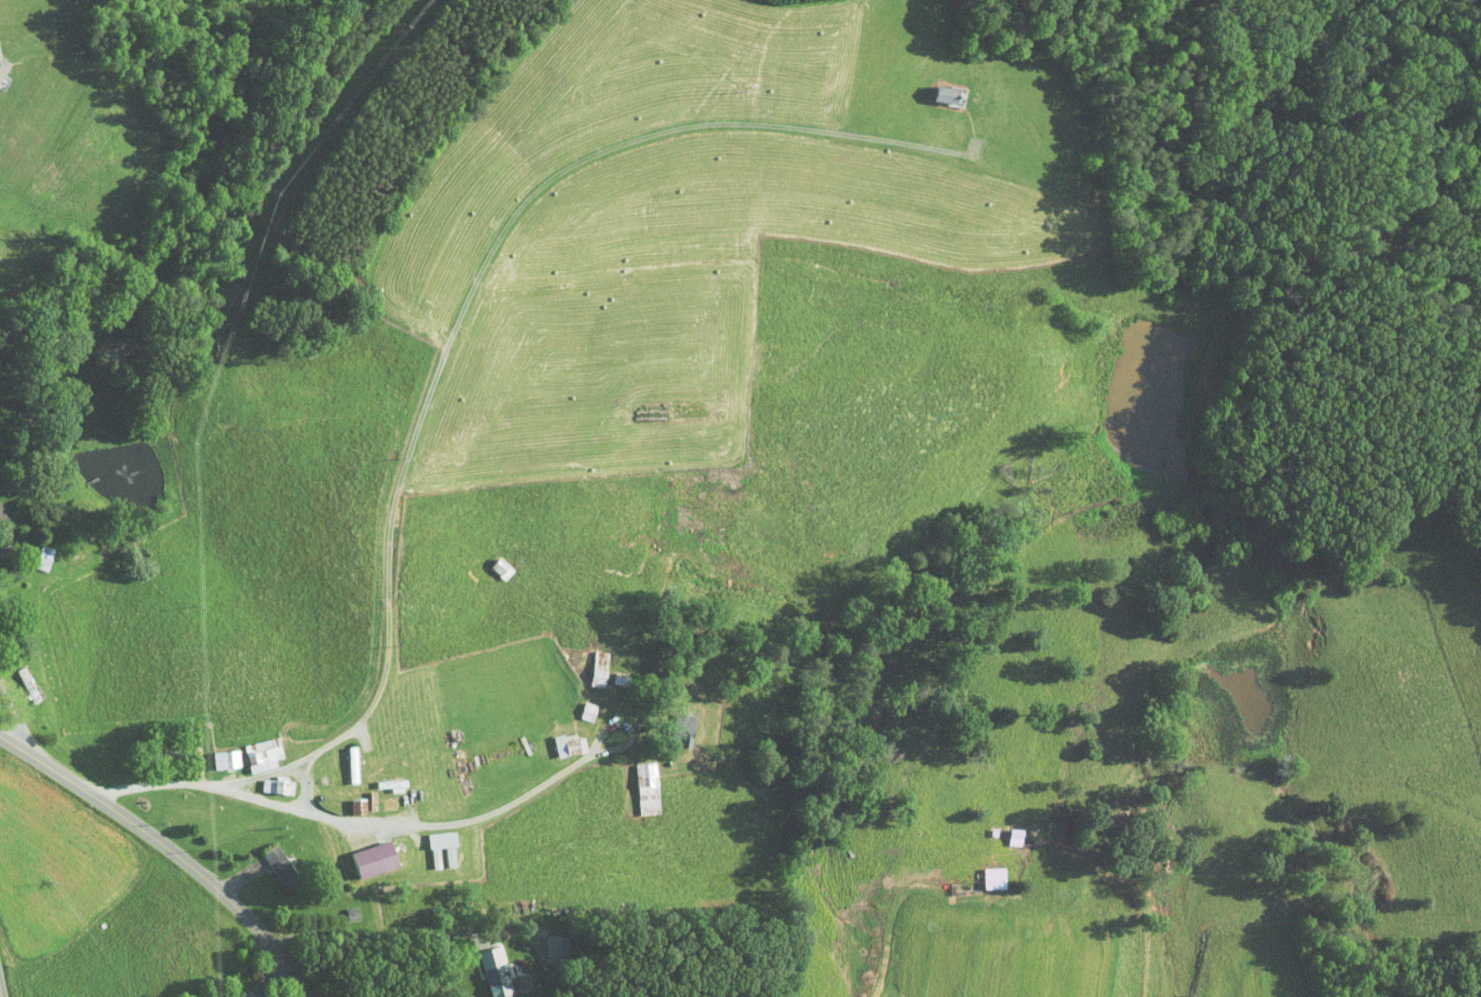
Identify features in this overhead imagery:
building: (939, 87)
road: (484, 267)
road: (9, 531)
building: (33, 551)
building: (589, 662)
building: (578, 705)
building: (560, 738)
road: (621, 745)
building: (254, 748)
building: (217, 753)
building: (344, 758)
road: (279, 769)
building: (637, 782)
building: (363, 794)
building: (349, 800)
road: (369, 821)
building: (433, 841)
road: (171, 850)
building: (367, 852)
building: (272, 862)
building: (985, 872)
road: (376, 934)
building: (548, 940)
building: (486, 967)
building: (242, 990)
road: (0, 996)

